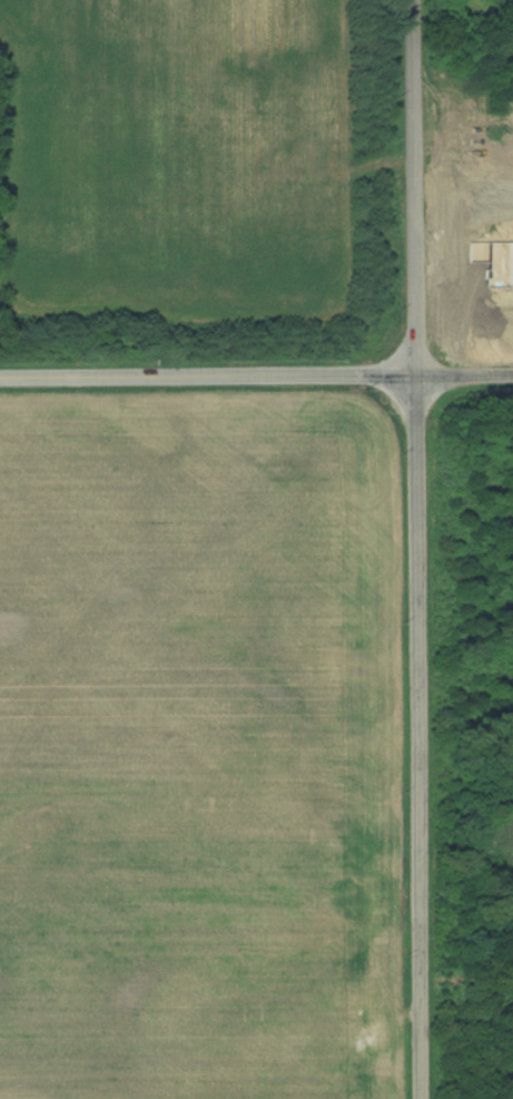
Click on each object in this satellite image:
road: (415, 187)
road: (465, 374)
road: (208, 376)
road: (420, 737)

